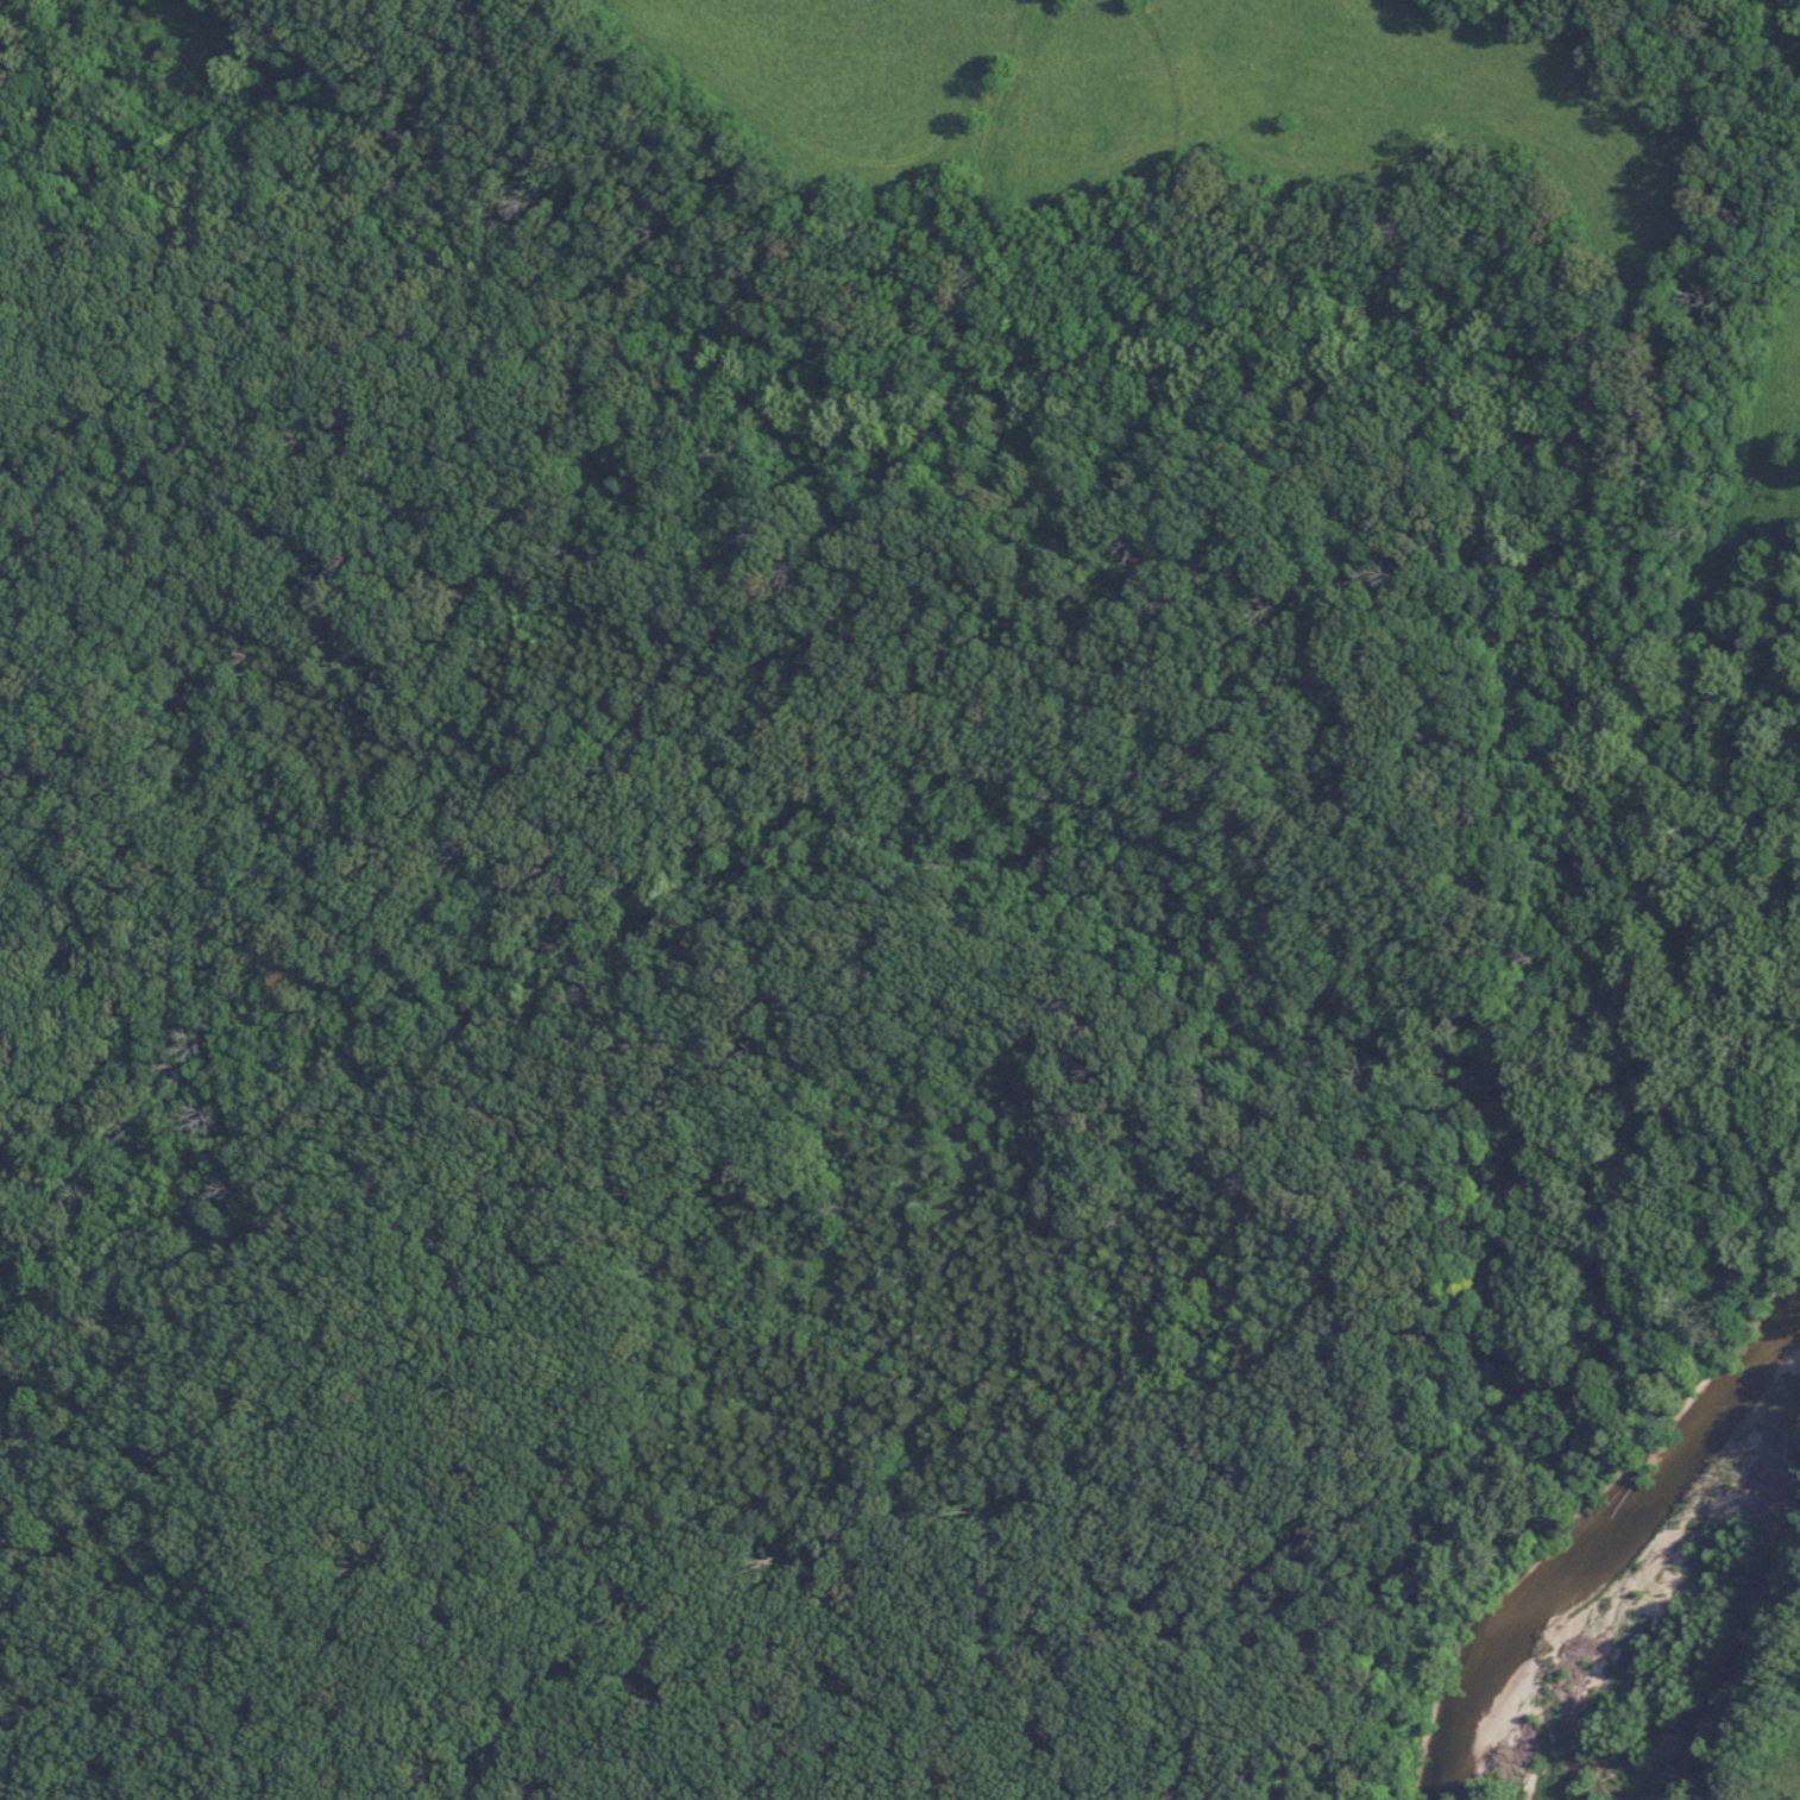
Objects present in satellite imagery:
river: (1600, 1529)

